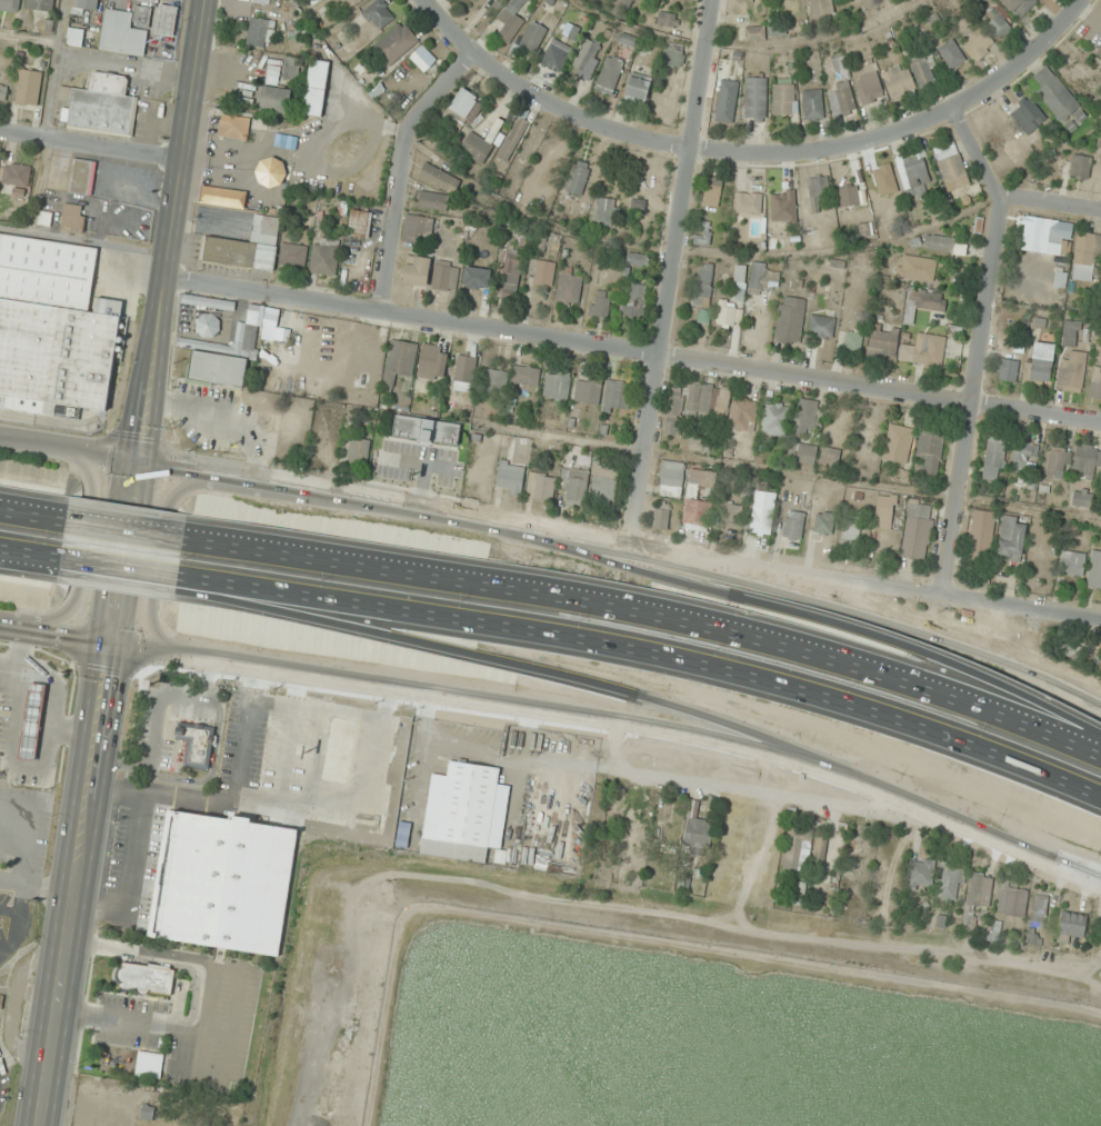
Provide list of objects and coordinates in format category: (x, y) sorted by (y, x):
building: (466, 0)
building: (747, 0)
building: (261, 1)
building: (351, 3)
building: (10, 4)
building: (40, 4)
building: (86, 4)
building: (619, 7)
building: (1019, 7)
building: (821, 8)
building: (379, 14)
building: (167, 19)
building: (668, 19)
building: (511, 20)
building: (998, 22)
building: (780, 30)
building: (126, 31)
building: (258, 31)
building: (755, 33)
building: (74, 37)
building: (532, 37)
building: (628, 39)
building: (396, 43)
building: (977, 43)
building: (561, 49)
building: (1099, 51)
building: (673, 54)
building: (951, 54)
building: (423, 58)
building: (588, 58)
building: (840, 63)
building: (292, 68)
building: (923, 70)
building: (610, 76)
building: (1081, 77)
building: (898, 81)
building: (29, 88)
building: (316, 88)
building: (869, 88)
building: (638, 89)
building: (3, 92)
building: (1054, 94)
building: (755, 97)
building: (784, 97)
building: (274, 99)
building: (842, 99)
building: (727, 101)
building: (101, 104)
building: (813, 104)
building: (467, 106)
building: (1028, 116)
building: (234, 127)
building: (513, 140)
road: (91, 147)
building: (444, 147)
building: (477, 148)
road: (758, 157)
building: (951, 167)
building: (1081, 168)
road: (402, 171)
building: (270, 172)
building: (913, 173)
building: (17, 175)
building: (82, 177)
building: (439, 178)
building: (578, 178)
building: (888, 183)
building: (820, 189)
building: (712, 191)
building: (849, 197)
building: (432, 201)
building: (748, 203)
building: (783, 207)
road: (1052, 207)
building: (603, 211)
building: (73, 217)
building: (46, 219)
building: (360, 223)
building: (417, 228)
building: (864, 231)
building: (1044, 236)
building: (702, 239)
building: (944, 243)
building: (246, 247)
building: (293, 256)
building: (1087, 258)
building: (324, 259)
building: (638, 260)
building: (917, 267)
building: (417, 271)
building: (543, 273)
road: (665, 275)
building: (511, 276)
building: (446, 277)
building: (764, 278)
building: (477, 279)
building: (740, 282)
building: (703, 283)
building: (569, 290)
building: (634, 301)
building: (208, 302)
building: (922, 302)
building: (600, 308)
building: (790, 320)
road: (158, 322)
building: (208, 326)
building: (821, 327)
building: (53, 328)
building: (1070, 333)
building: (853, 341)
building: (883, 341)
road: (979, 346)
road: (633, 349)
building: (370, 352)
building: (924, 352)
building: (228, 358)
building: (400, 361)
building: (433, 362)
building: (1040, 363)
building: (1007, 370)
building: (1071, 372)
building: (526, 376)
building: (494, 381)
building: (557, 386)
building: (1095, 387)
building: (588, 391)
building: (617, 397)
building: (695, 405)
building: (743, 415)
building: (807, 416)
building: (774, 419)
building: (427, 430)
building: (699, 444)
building: (898, 445)
building: (521, 448)
road: (69, 449)
building: (359, 452)
building: (803, 454)
building: (929, 454)
building: (1023, 455)
building: (830, 458)
building: (993, 459)
traffic signals: (139, 460)
building: (1087, 461)
building: (1058, 464)
building: (511, 476)
building: (671, 480)
building: (604, 482)
building: (574, 486)
building: (541, 487)
building: (691, 494)
building: (1082, 498)
road: (414, 511)
building: (762, 512)
building: (731, 514)
road: (33, 516)
building: (883, 518)
building: (660, 519)
building: (823, 524)
building: (793, 526)
road: (126, 530)
building: (917, 531)
building: (850, 532)
building: (981, 534)
building: (1012, 538)
road: (83, 551)
road: (31, 552)
road: (160, 555)
road: (31, 559)
building: (1072, 564)
road: (120, 566)
building: (1094, 570)
road: (119, 579)
road: (895, 587)
road: (650, 606)
road: (834, 617)
road: (899, 617)
park: (1008, 628)
road: (56, 636)
traffic signals: (112, 647)
road: (648, 651)
road: (547, 680)
building: (32, 721)
road: (617, 723)
building: (197, 744)
building: (340, 750)
road: (419, 766)
road: (667, 776)
building: (460, 813)
building: (634, 828)
building: (670, 834)
building: (759, 835)
building: (698, 836)
building: (722, 841)
building: (793, 848)
building: (854, 858)
building: (818, 860)
building: (250, 867)
building: (920, 873)
building: (950, 881)
road: (77, 886)
building: (979, 891)
building: (799, 894)
building: (1012, 901)
building: (1039, 909)
building: (1072, 924)
building: (146, 978)
wastewater plant: (708, 1045)
building: (149, 1065)

